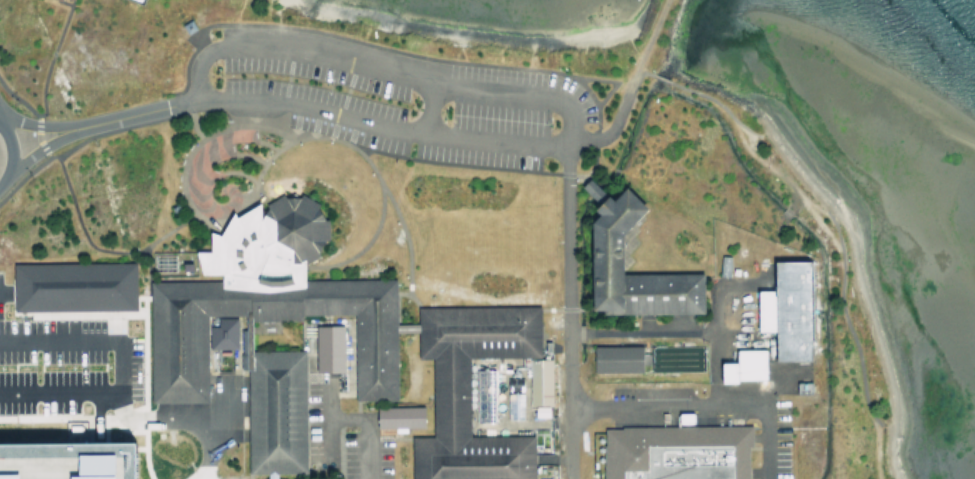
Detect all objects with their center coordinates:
building: (63, 0)
road: (322, 56)
road: (196, 70)
road: (635, 71)
road: (42, 82)
road: (628, 86)
road: (521, 94)
road: (247, 97)
parking lot: (389, 97)
road: (429, 107)
road: (185, 114)
road: (284, 118)
road: (35, 124)
road: (593, 126)
road: (495, 138)
road: (10, 140)
road: (40, 142)
road: (449, 162)
road: (194, 171)
road: (7, 174)
road: (22, 175)
road: (376, 218)
road: (79, 228)
road: (404, 236)
building: (266, 243)
building: (597, 252)
building: (170, 262)
building: (720, 265)
building: (74, 286)
road: (1, 291)
road: (407, 294)
building: (788, 309)
storage tank: (788, 309)
road: (565, 312)
road: (648, 330)
building: (218, 333)
road: (416, 333)
building: (323, 348)
building: (617, 356)
parking lot: (67, 366)
building: (176, 366)
building: (739, 366)
road: (116, 369)
building: (536, 381)
building: (510, 384)
building: (798, 387)
building: (452, 395)
road: (706, 402)
building: (273, 411)
building: (537, 412)
building: (395, 416)
building: (681, 417)
road: (42, 418)
road: (327, 420)
road: (165, 421)
road: (365, 428)
building: (71, 431)
road: (142, 448)
parking lot: (363, 448)
road: (206, 450)
building: (677, 452)
road: (337, 453)
building: (59, 460)
road: (267, 473)

